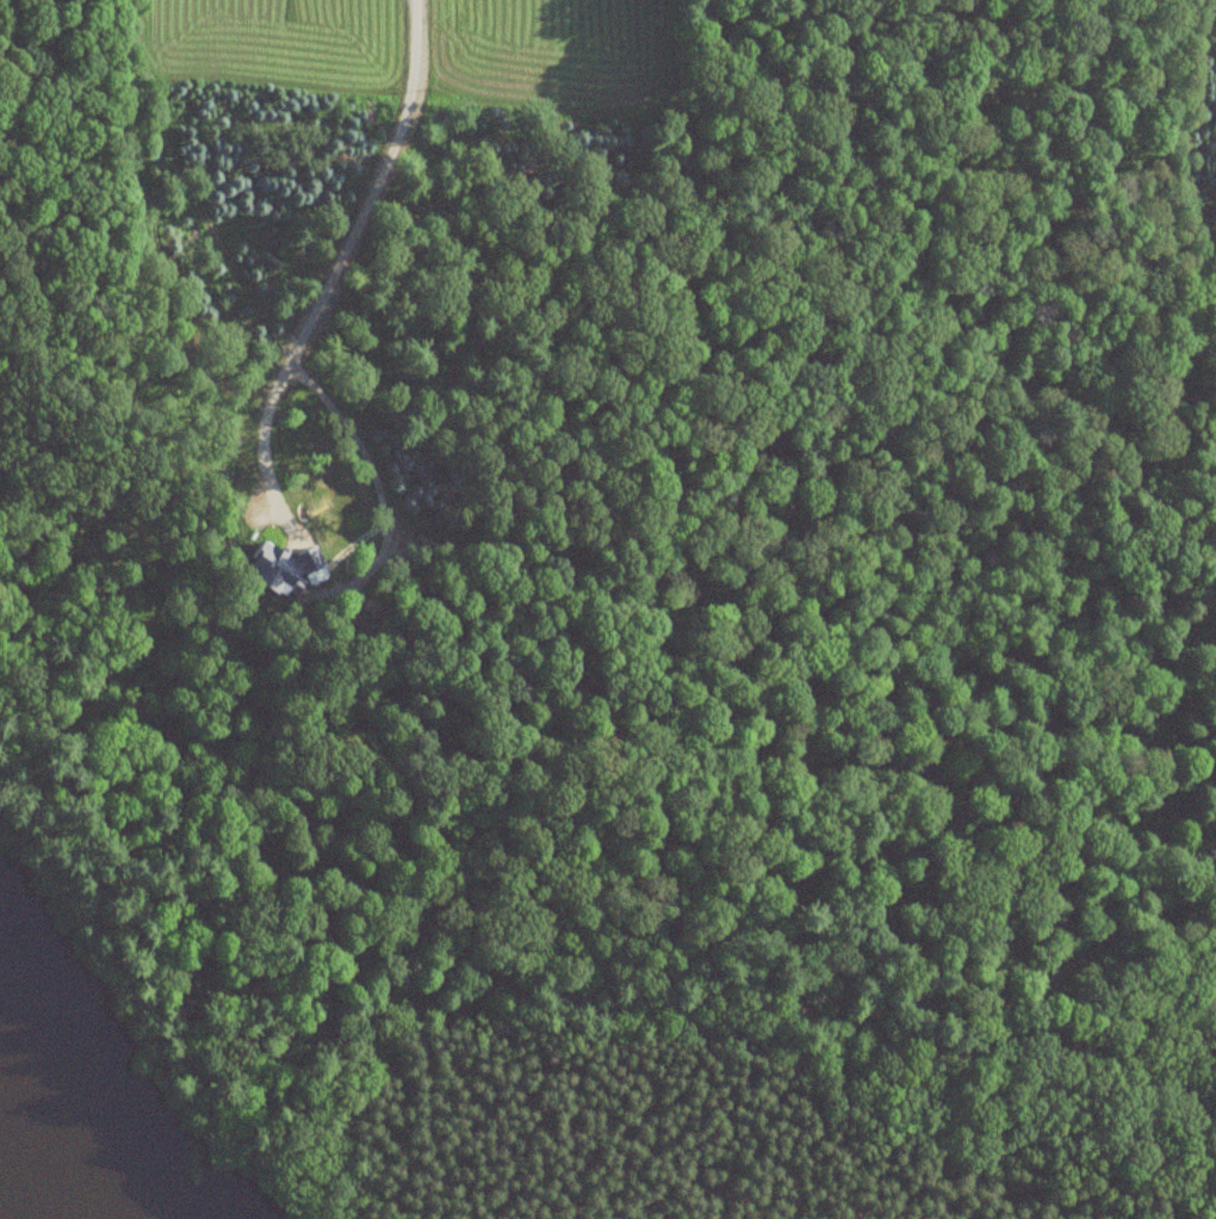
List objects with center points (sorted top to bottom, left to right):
river: (35, 1164)

